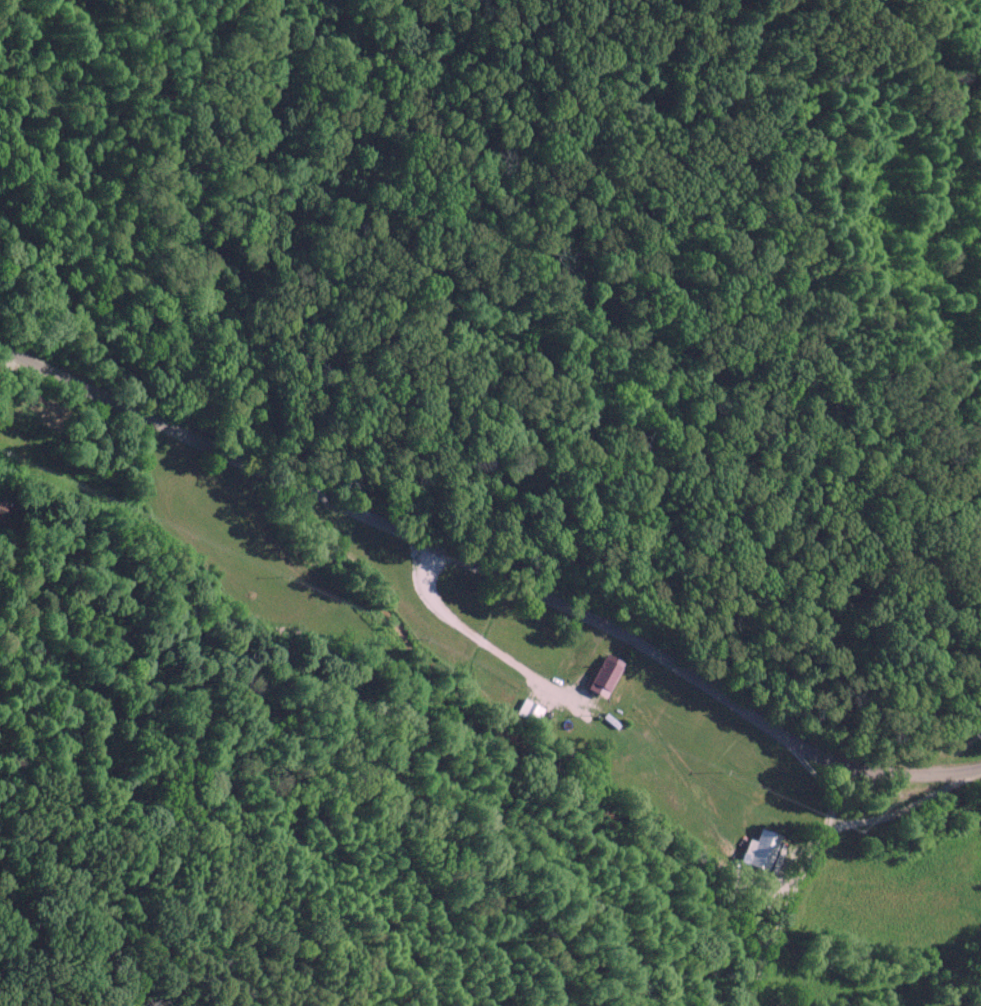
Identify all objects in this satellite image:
building: (1, 506)
road: (490, 573)
building: (607, 673)
building: (529, 711)
road: (812, 846)
building: (761, 850)

